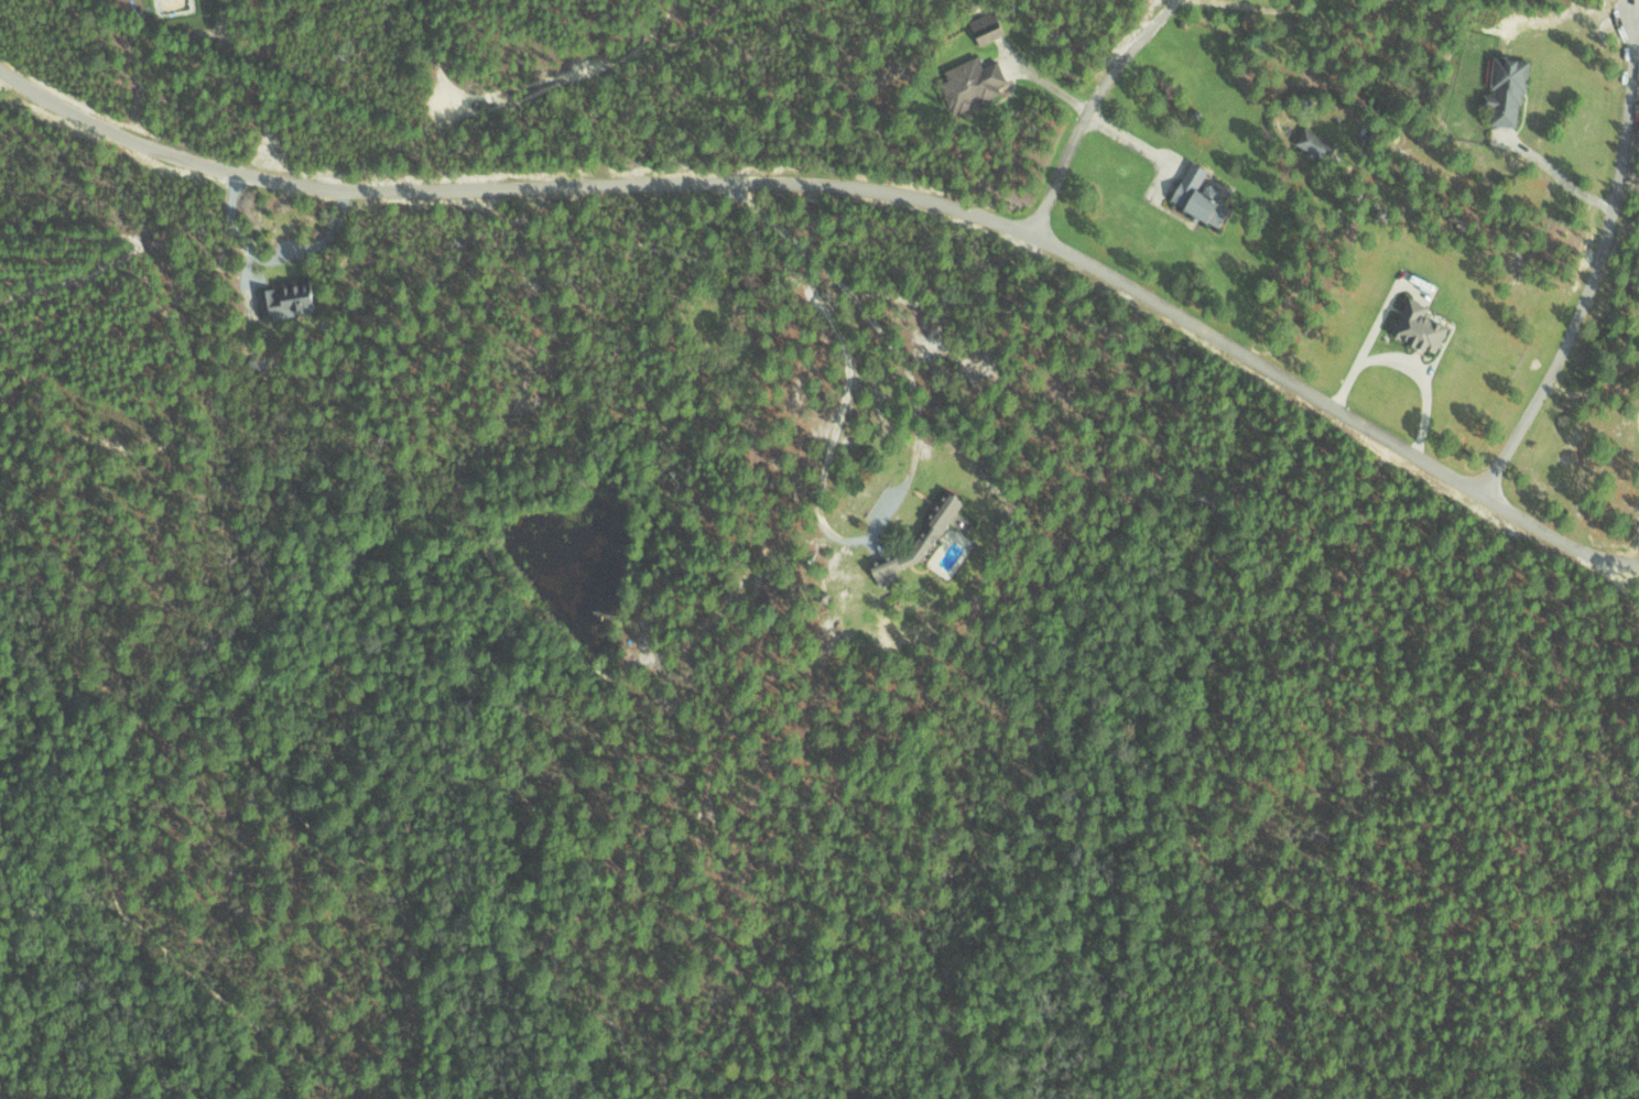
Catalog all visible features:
road: (615, 20)
building: (984, 28)
building: (969, 81)
building: (1505, 90)
road: (1092, 106)
building: (1312, 142)
road: (856, 181)
building: (1195, 196)
road: (1591, 276)
building: (284, 298)
building: (1417, 327)
road: (848, 363)
building: (922, 537)
road: (1624, 586)

